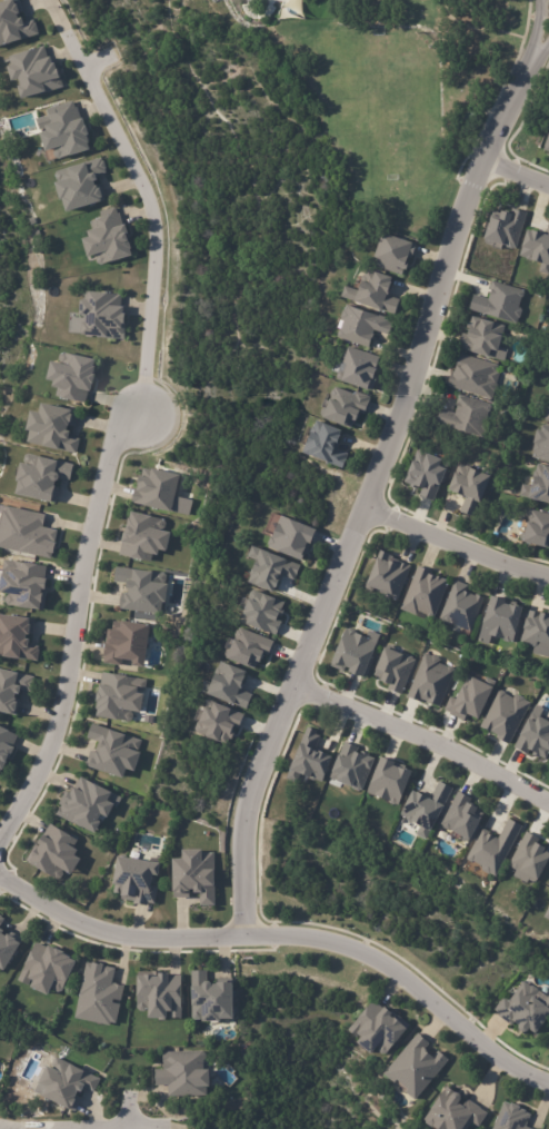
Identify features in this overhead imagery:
building: (450, 20)
building: (13, 22)
road: (537, 29)
road: (541, 52)
building: (33, 70)
park: (381, 88)
building: (472, 126)
building: (63, 130)
building: (546, 141)
road: (517, 172)
building: (83, 185)
road: (146, 196)
building: (505, 229)
building: (109, 238)
building: (536, 249)
building: (389, 254)
building: (372, 294)
building: (499, 304)
building: (102, 313)
building: (359, 327)
building: (481, 339)
building: (355, 370)
building: (71, 376)
building: (472, 376)
building: (340, 407)
building: (547, 414)
building: (465, 417)
building: (52, 427)
building: (541, 443)
building: (321, 447)
building: (423, 475)
building: (41, 476)
building: (539, 483)
building: (466, 487)
road: (373, 494)
building: (536, 531)
building: (27, 533)
building: (143, 535)
building: (288, 538)
road: (458, 544)
building: (267, 571)
building: (385, 576)
building: (23, 583)
building: (141, 590)
building: (425, 596)
building: (460, 604)
building: (260, 613)
building: (500, 622)
building: (537, 632)
road: (82, 633)
building: (18, 638)
building: (126, 643)
building: (244, 650)
building: (351, 654)
building: (392, 670)
building: (431, 681)
building: (11, 687)
building: (228, 687)
building: (119, 696)
building: (468, 699)
building: (503, 716)
building: (214, 724)
road: (425, 736)
building: (532, 737)
building: (6, 747)
building: (112, 750)
building: (309, 759)
building: (350, 767)
building: (389, 782)
building: (84, 804)
building: (426, 806)
building: (460, 819)
building: (492, 848)
building: (54, 851)
building: (529, 859)
building: (193, 875)
building: (138, 881)
building: (546, 914)
road: (288, 935)
building: (8, 948)
building: (51, 970)
building: (162, 994)
building: (211, 994)
building: (101, 997)
building: (522, 1011)
building: (1, 1017)
building: (0, 1029)
building: (376, 1029)
building: (413, 1068)
building: (182, 1070)
building: (70, 1086)
building: (452, 1113)
building: (509, 1118)
road: (79, 1127)
building: (548, 1128)

